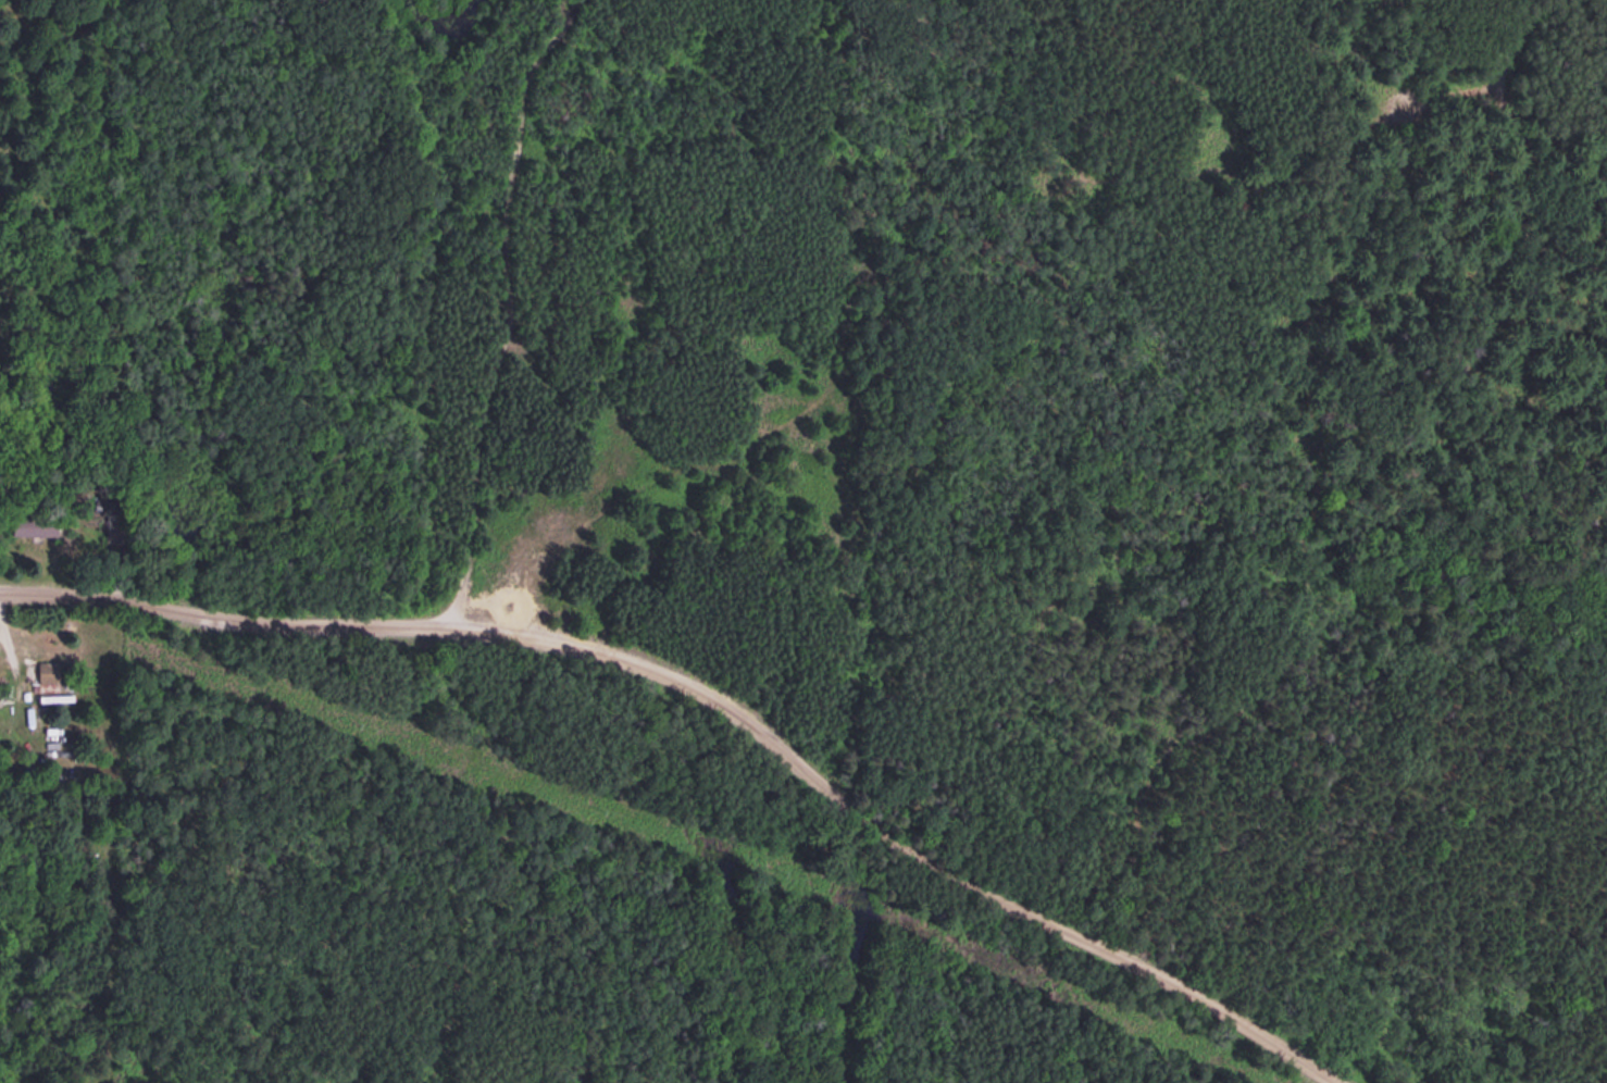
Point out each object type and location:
road: (1554, 196)
road: (921, 260)
road: (466, 289)
building: (47, 679)
road: (722, 689)
building: (5, 692)

